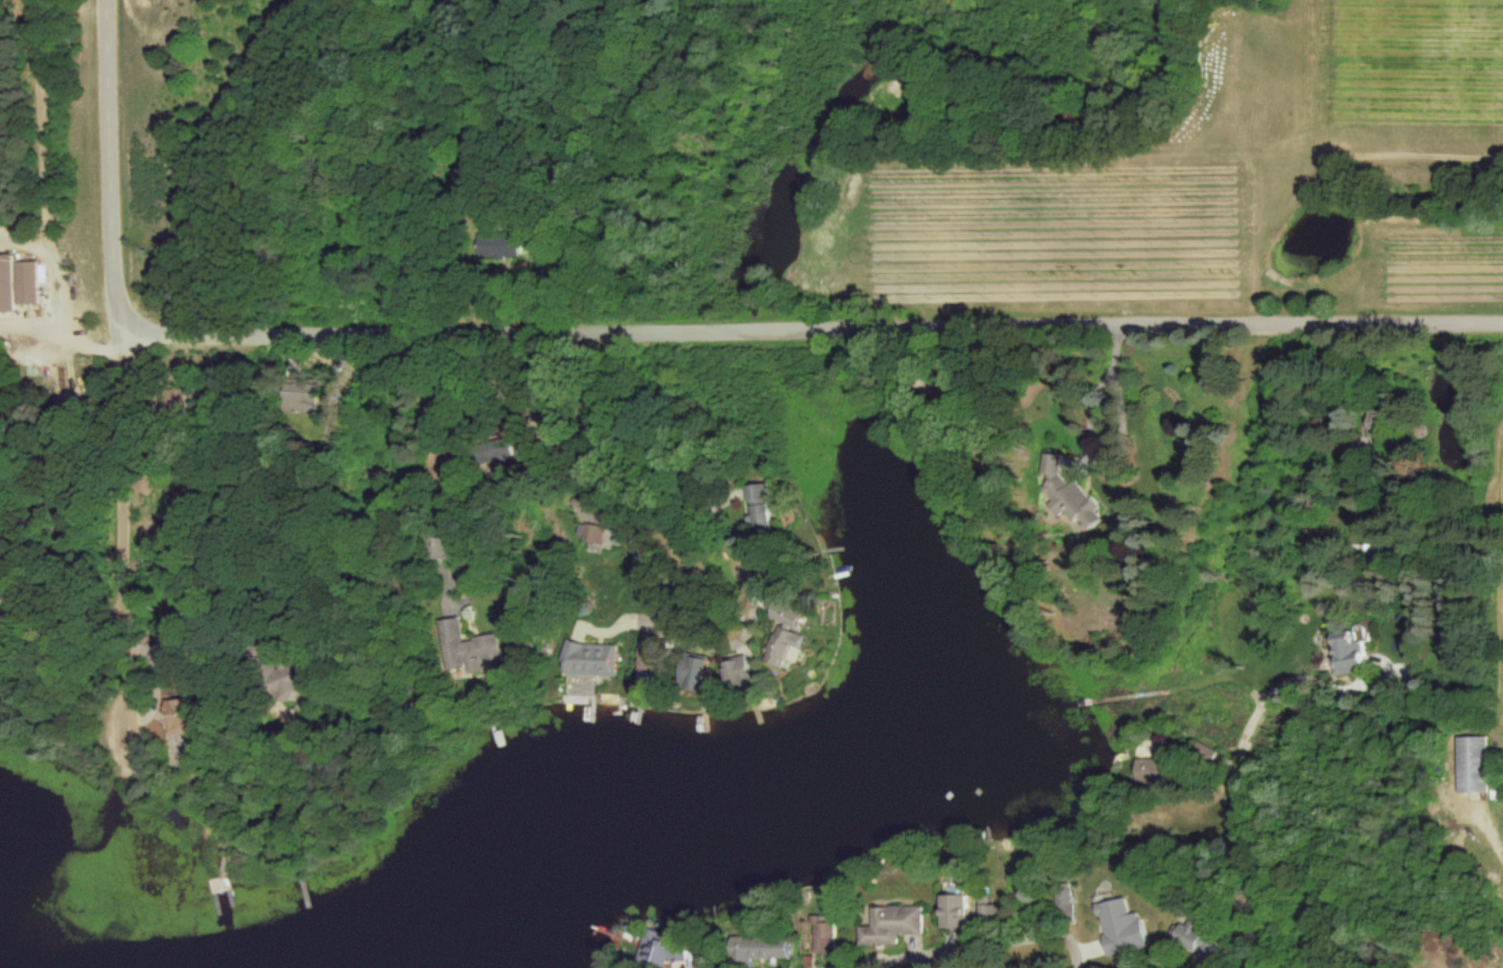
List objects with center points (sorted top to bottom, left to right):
road: (41, 118)
road: (204, 156)
road: (111, 163)
building: (505, 245)
building: (17, 283)
road: (59, 285)
road: (816, 332)
road: (65, 337)
road: (1110, 383)
building: (299, 398)
building: (1375, 425)
building: (497, 451)
building: (1067, 495)
road: (121, 505)
building: (758, 506)
building: (582, 510)
road: (424, 511)
building: (589, 533)
road: (448, 554)
road: (679, 623)
building: (784, 635)
building: (466, 647)
building: (1346, 653)
building: (588, 659)
building: (644, 666)
building: (690, 672)
building: (735, 673)
building: (287, 683)
building: (181, 715)
building: (1471, 764)
building: (1147, 770)
road: (1239, 786)
road: (1490, 824)
building: (1062, 903)
building: (986, 909)
building: (952, 910)
building: (890, 924)
building: (1119, 926)
building: (822, 935)
building: (1192, 938)
building: (660, 948)
building: (756, 948)
road: (945, 950)
road: (1074, 952)

